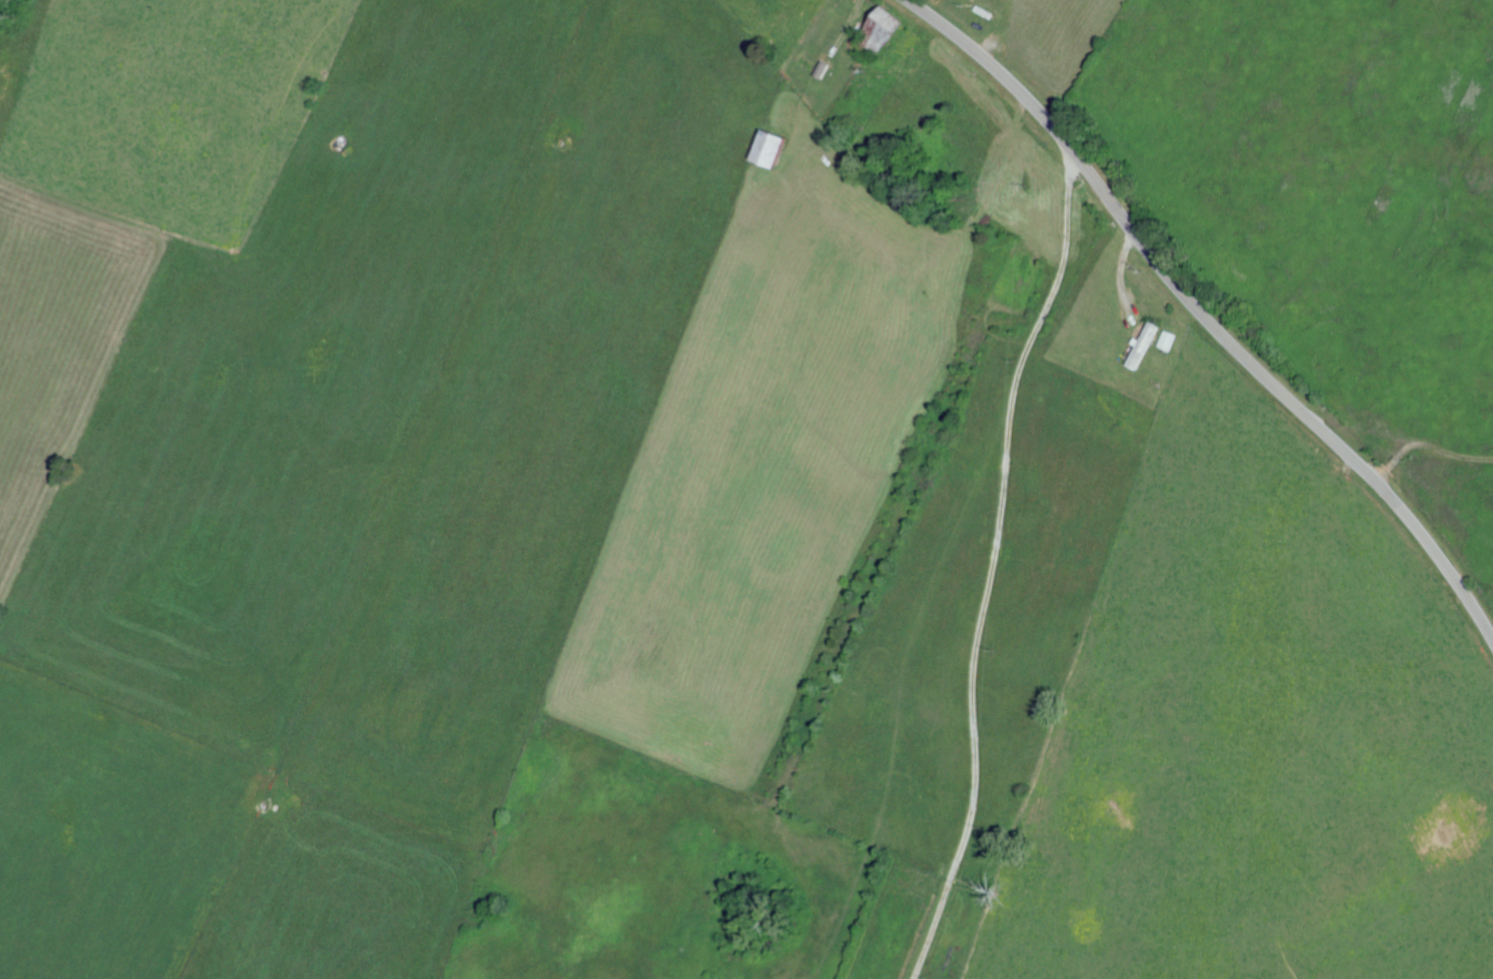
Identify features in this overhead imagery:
building: (878, 26)
building: (764, 148)
road: (1204, 317)
building: (1165, 340)
building: (1139, 345)

